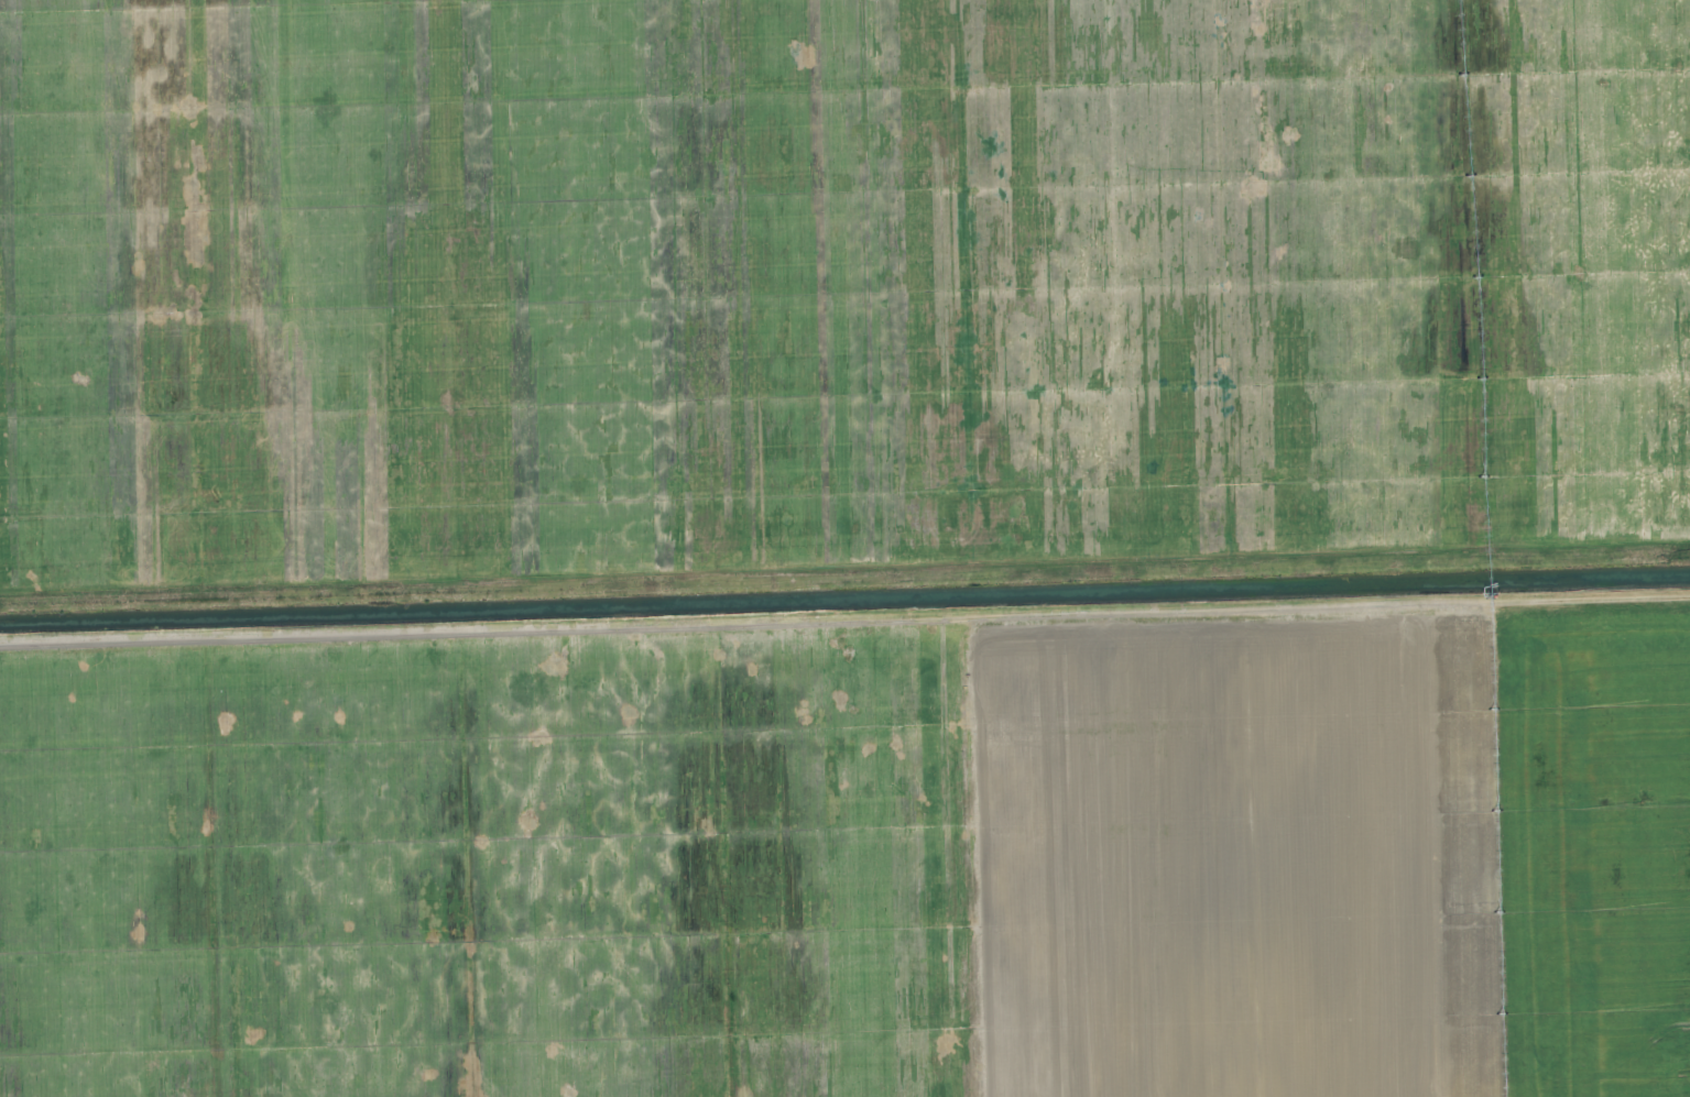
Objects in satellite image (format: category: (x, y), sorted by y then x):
road: (844, 618)

